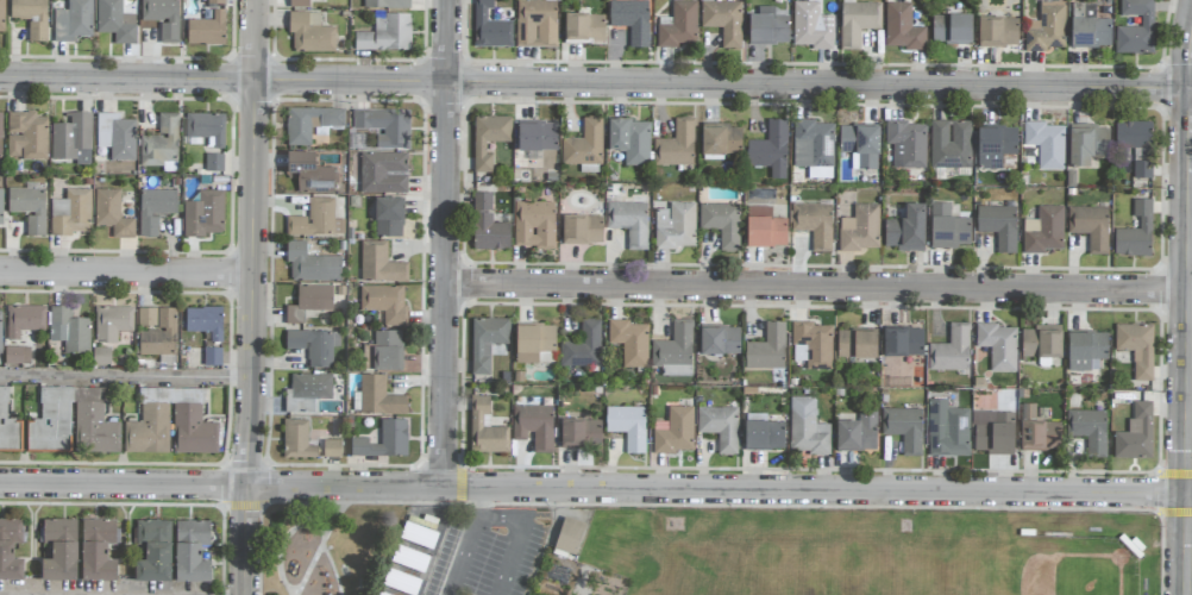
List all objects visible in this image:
building: (215, 2)
building: (300, 4)
building: (385, 4)
building: (1, 15)
building: (31, 17)
building: (162, 17)
building: (632, 20)
building: (73, 21)
building: (115, 21)
building: (723, 21)
building: (858, 23)
building: (535, 24)
building: (678, 25)
building: (576, 26)
building: (811, 26)
building: (490, 27)
building: (768, 27)
building: (1046, 27)
building: (1089, 27)
building: (1136, 27)
building: (596, 29)
building: (902, 29)
building: (207, 30)
building: (952, 30)
building: (998, 32)
building: (309, 33)
building: (387, 35)
road: (258, 40)
road: (128, 81)
road: (724, 84)
building: (309, 124)
building: (384, 127)
building: (206, 129)
building: (0, 134)
building: (26, 136)
building: (115, 136)
building: (537, 136)
building: (73, 139)
building: (489, 139)
building: (720, 139)
building: (629, 140)
building: (584, 144)
building: (813, 144)
building: (860, 144)
building: (906, 144)
building: (951, 144)
building: (1046, 144)
building: (1087, 144)
building: (161, 145)
building: (676, 145)
building: (1136, 145)
building: (768, 146)
building: (995, 146)
building: (214, 162)
building: (309, 173)
building: (383, 173)
building: (0, 206)
building: (29, 207)
building: (155, 209)
building: (71, 213)
building: (112, 214)
building: (203, 214)
building: (388, 218)
building: (316, 220)
building: (629, 220)
building: (534, 224)
building: (721, 224)
building: (814, 224)
building: (488, 225)
building: (676, 226)
building: (998, 226)
building: (765, 227)
building: (1090, 227)
building: (860, 228)
building: (948, 228)
building: (582, 230)
building: (905, 230)
building: (1044, 231)
building: (1136, 232)
road: (448, 243)
building: (310, 264)
building: (379, 264)
road: (127, 273)
road: (820, 287)
building: (309, 302)
building: (384, 302)
building: (24, 320)
building: (205, 321)
building: (112, 322)
building: (0, 328)
building: (69, 330)
building: (156, 331)
road: (256, 338)
building: (719, 340)
building: (487, 342)
building: (533, 342)
building: (630, 342)
building: (903, 342)
building: (1042, 342)
building: (813, 344)
building: (857, 344)
building: (314, 345)
building: (582, 346)
building: (998, 346)
building: (1136, 347)
building: (767, 349)
building: (951, 350)
building: (383, 351)
building: (675, 351)
building: (1086, 351)
building: (17, 355)
building: (100, 356)
building: (212, 357)
road: (127, 378)
building: (310, 386)
building: (378, 397)
building: (55, 412)
building: (7, 426)
building: (533, 426)
building: (627, 426)
building: (720, 426)
building: (807, 427)
building: (485, 428)
building: (904, 428)
building: (149, 430)
building: (947, 430)
building: (1039, 430)
building: (1089, 430)
building: (193, 431)
building: (673, 431)
building: (858, 432)
building: (579, 433)
building: (763, 433)
building: (1135, 434)
building: (995, 436)
building: (296, 439)
building: (383, 440)
road: (1191, 443)
building: (331, 449)
road: (596, 488)
road: (476, 515)
road: (522, 525)
building: (569, 535)
park: (331, 546)
building: (59, 549)
building: (10, 550)
building: (98, 550)
building: (153, 551)
building: (190, 551)
parking lot: (488, 551)
road: (462, 557)
building: (401, 582)

